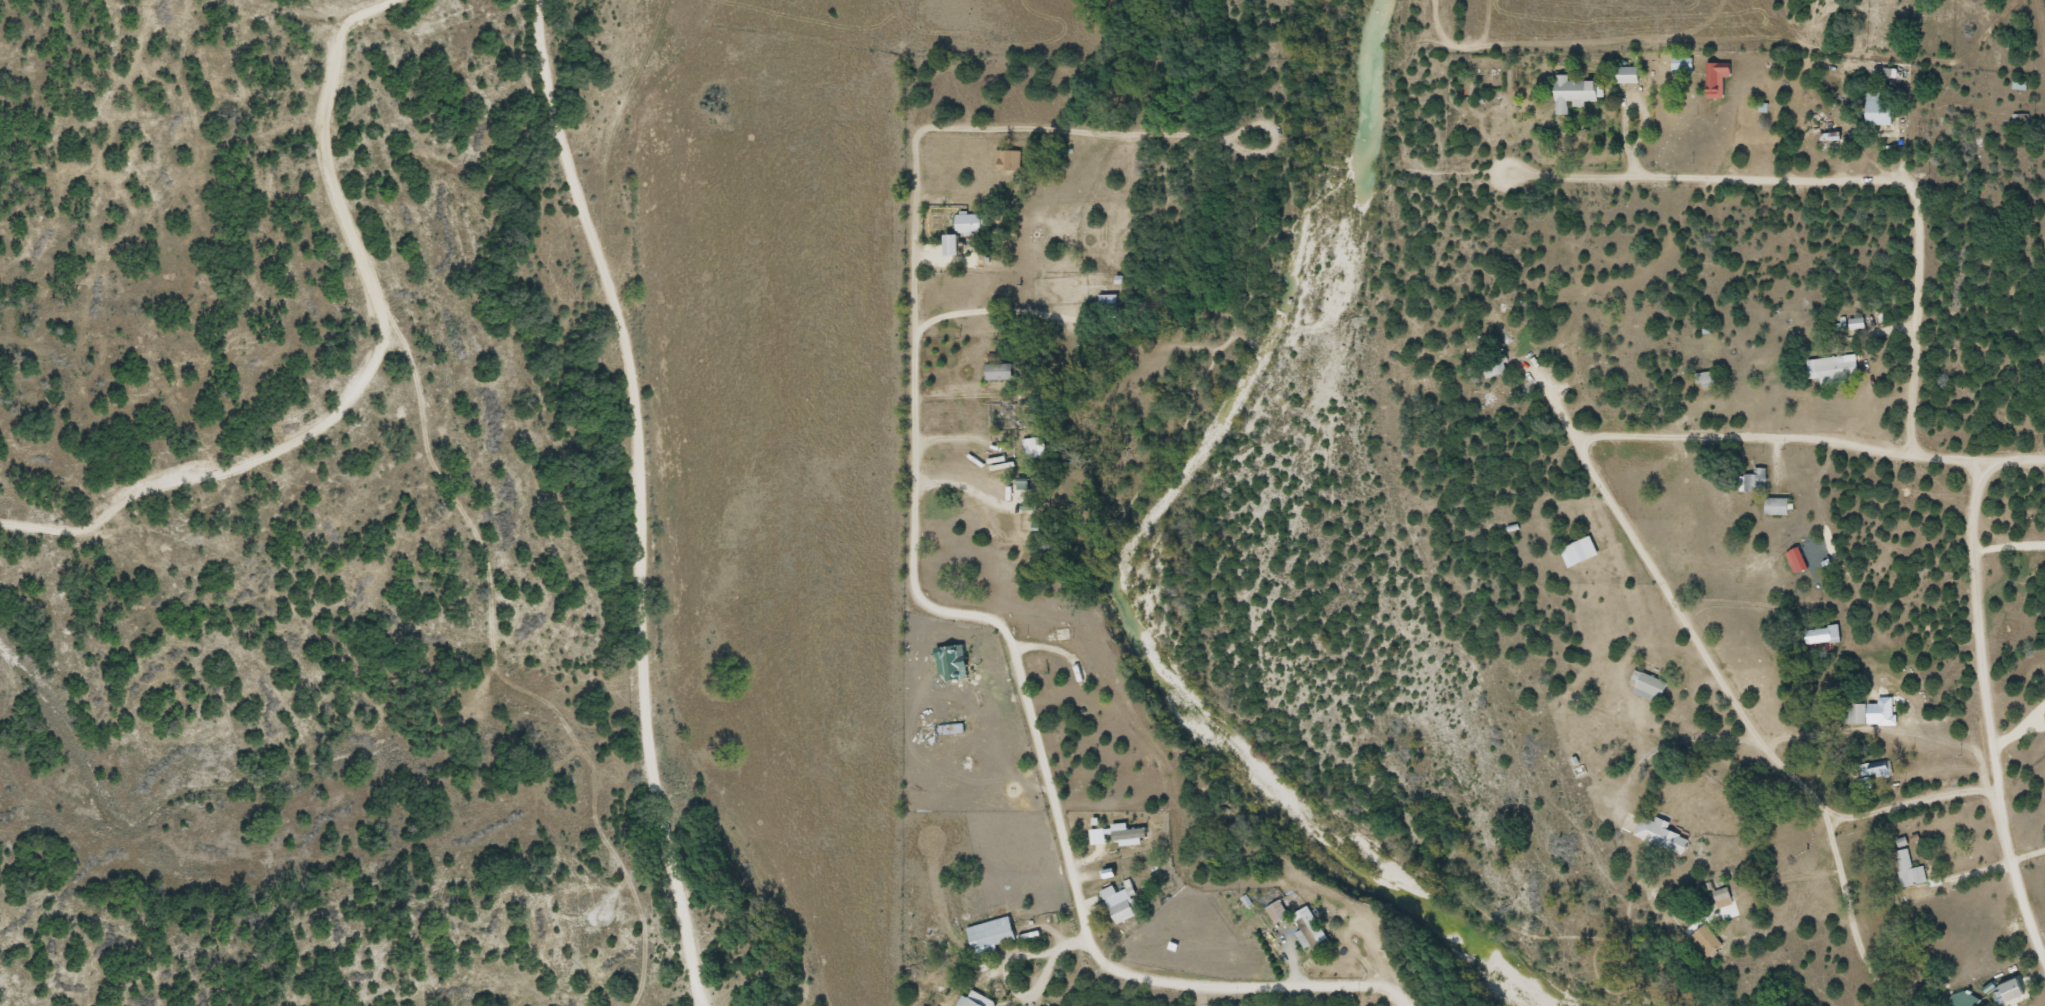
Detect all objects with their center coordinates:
park: (1911, 26)
road: (1586, 53)
building: (1682, 65)
building: (1629, 75)
building: (1717, 79)
building: (1574, 92)
building: (1879, 109)
road: (616, 126)
building: (1008, 160)
road: (1730, 178)
building: (971, 223)
building: (953, 245)
building: (1109, 304)
road: (1916, 313)
building: (1856, 322)
building: (1495, 365)
building: (1829, 368)
building: (1000, 372)
road: (363, 375)
road: (882, 379)
building: (1706, 379)
road: (644, 441)
building: (1035, 447)
building: (1754, 480)
building: (1777, 505)
road: (1608, 533)
building: (1579, 551)
river: (1121, 585)
building: (1825, 633)
road: (1988, 670)
building: (1647, 684)
building: (1868, 709)
building: (1879, 768)
building: (1661, 835)
building: (1908, 869)
building: (1722, 897)
building: (1125, 910)
building: (1278, 912)
road: (788, 913)
building: (1313, 930)
road: (2024, 931)
building: (991, 932)
road: (798, 941)
building: (1706, 941)
road: (697, 948)
road: (850, 958)
road: (1086, 975)
building: (2014, 989)
building: (976, 1000)
building: (1979, 1005)

